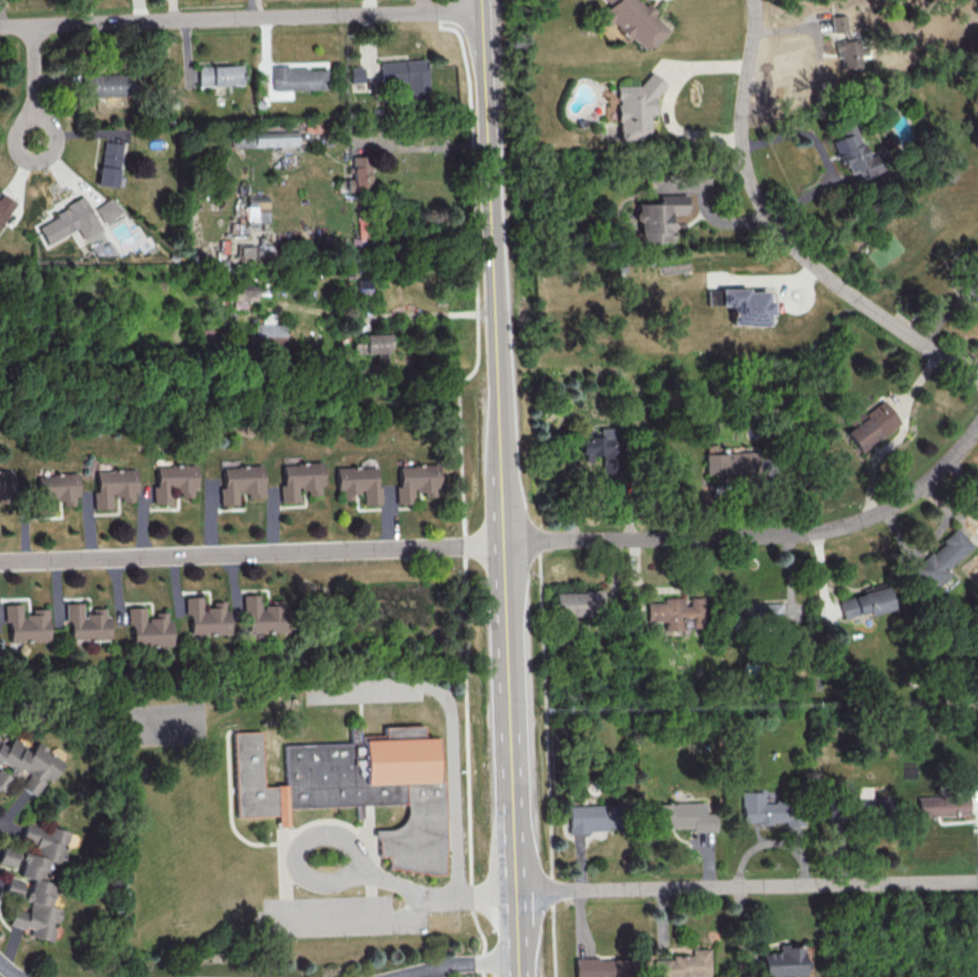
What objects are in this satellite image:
road: (482, 5)
road: (453, 10)
road: (241, 19)
building: (632, 21)
building: (837, 23)
building: (849, 52)
road: (819, 53)
building: (359, 76)
building: (222, 77)
building: (409, 77)
building: (300, 79)
road: (36, 82)
building: (114, 86)
road: (666, 101)
building: (636, 107)
building: (264, 138)
road: (432, 148)
building: (852, 151)
road: (824, 155)
building: (109, 163)
building: (359, 174)
road: (489, 181)
building: (5, 206)
road: (706, 207)
building: (107, 210)
building: (658, 217)
building: (70, 222)
road: (784, 232)
building: (361, 234)
building: (243, 251)
road: (475, 280)
building: (974, 290)
building: (242, 295)
building: (745, 306)
road: (946, 315)
building: (267, 332)
building: (373, 345)
building: (869, 424)
road: (902, 434)
road: (499, 448)
building: (603, 449)
building: (731, 463)
building: (302, 481)
building: (175, 483)
building: (418, 483)
building: (242, 484)
building: (360, 485)
building: (6, 486)
building: (116, 488)
building: (58, 492)
road: (893, 501)
road: (642, 537)
road: (465, 546)
road: (251, 552)
building: (940, 559)
building: (578, 602)
building: (864, 602)
building: (676, 612)
building: (762, 612)
building: (267, 617)
building: (209, 618)
building: (27, 626)
building: (88, 626)
building: (151, 630)
road: (363, 689)
parking lot: (363, 691)
road: (468, 720)
road: (509, 720)
road: (360, 723)
road: (548, 757)
building: (29, 764)
building: (3, 779)
road: (453, 784)
building: (356, 788)
road: (232, 791)
building: (944, 807)
building: (863, 811)
building: (771, 812)
road: (362, 813)
building: (598, 816)
building: (681, 818)
road: (365, 824)
road: (369, 835)
road: (246, 841)
park: (176, 850)
road: (356, 854)
road: (281, 863)
road: (373, 865)
building: (35, 878)
road: (320, 884)
road: (746, 885)
road: (440, 897)
road: (471, 897)
road: (486, 897)
road: (420, 905)
parking lot: (337, 918)
road: (342, 918)
road: (517, 929)
road: (484, 942)
building: (782, 961)
road: (464, 963)
building: (683, 964)
building: (600, 967)
road: (518, 969)
road: (9, 970)

